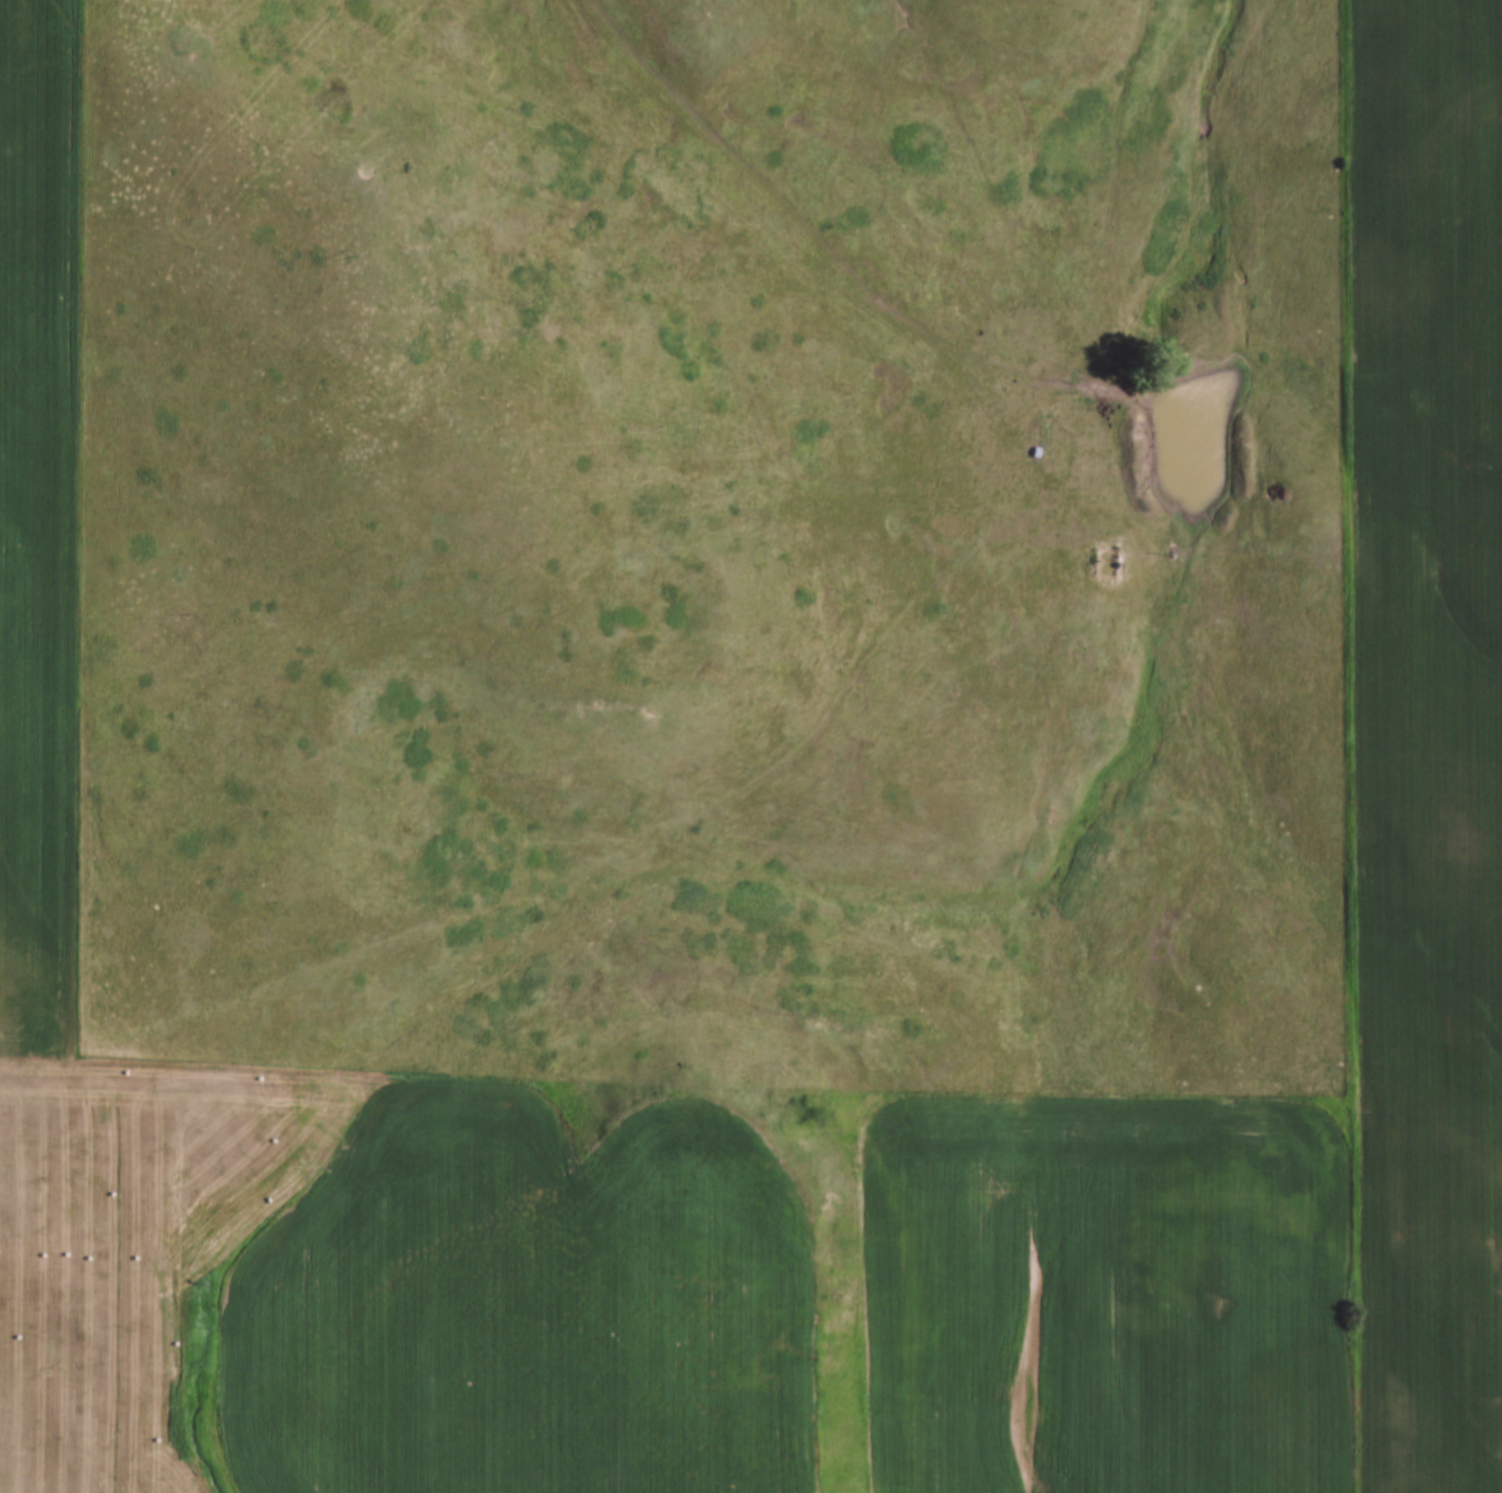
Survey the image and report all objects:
road: (742, 160)
road: (77, 528)

